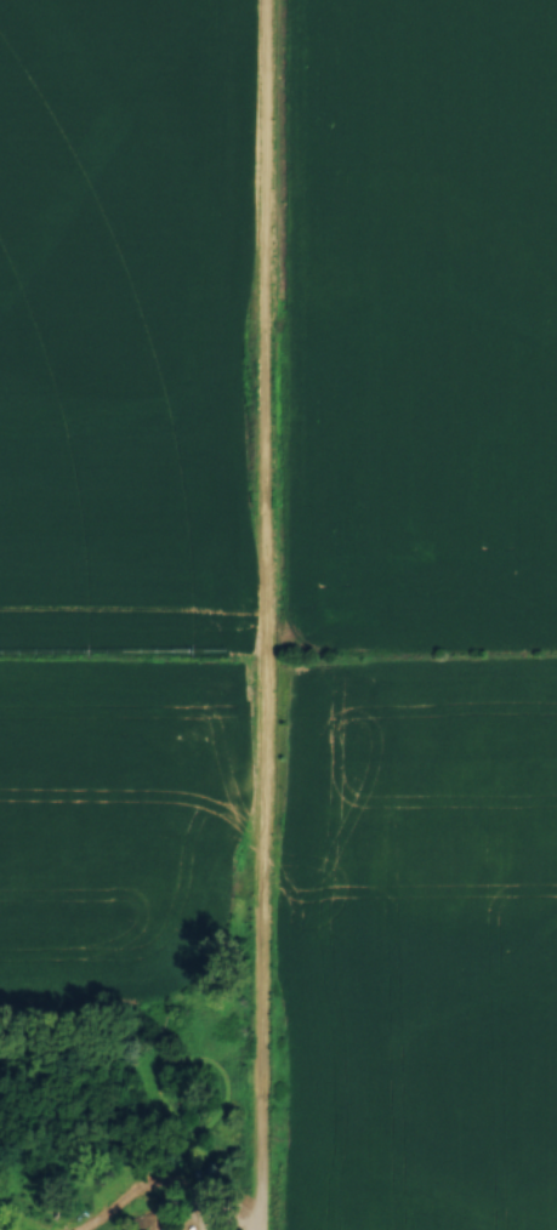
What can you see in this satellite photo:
road: (257, 614)
building: (147, 1228)

